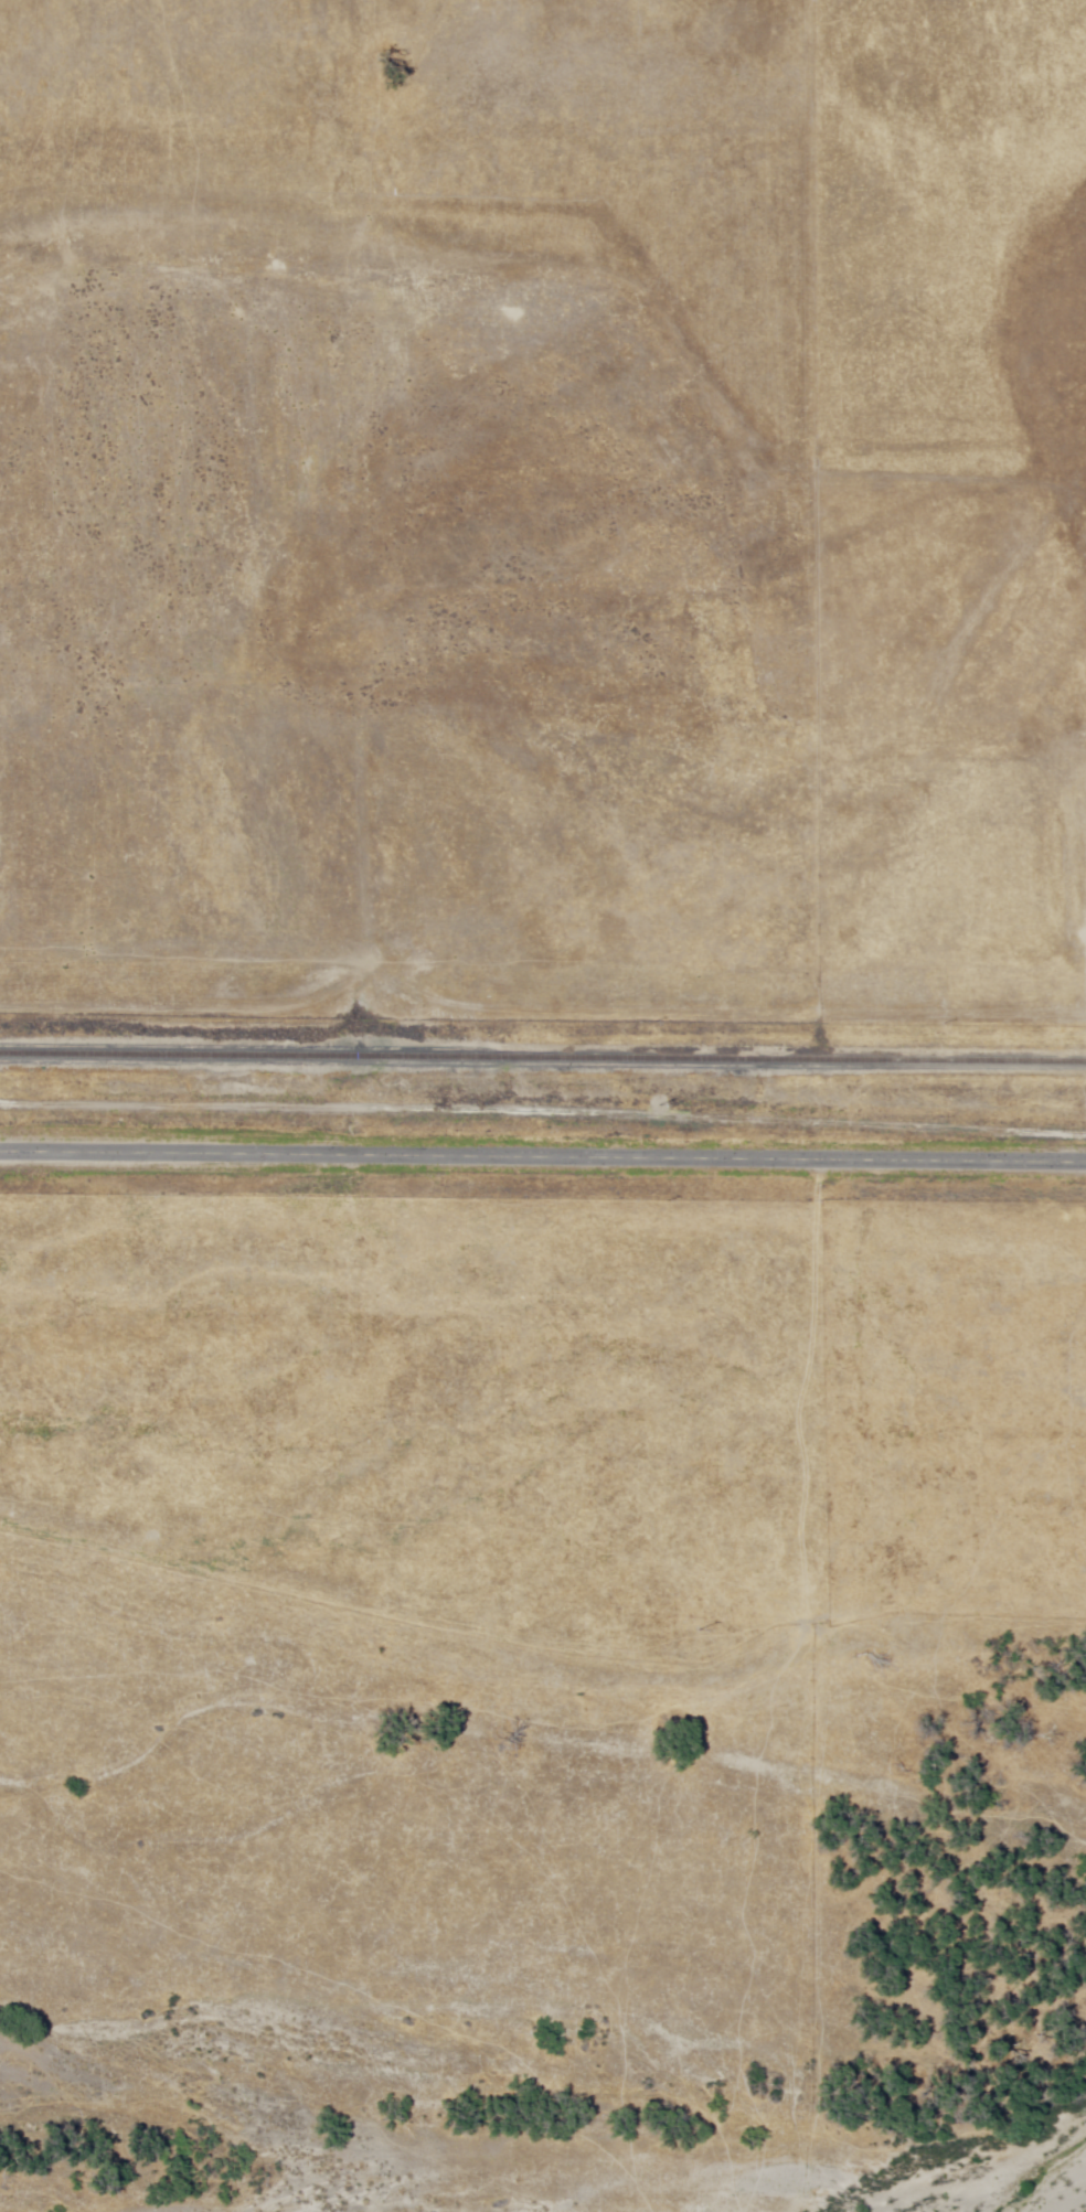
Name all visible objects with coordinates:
road: (966, 168)
road: (638, 398)
quarry: (535, 686)
road: (537, 1011)
railway: (543, 1059)
road: (543, 1156)
park: (984, 1606)

